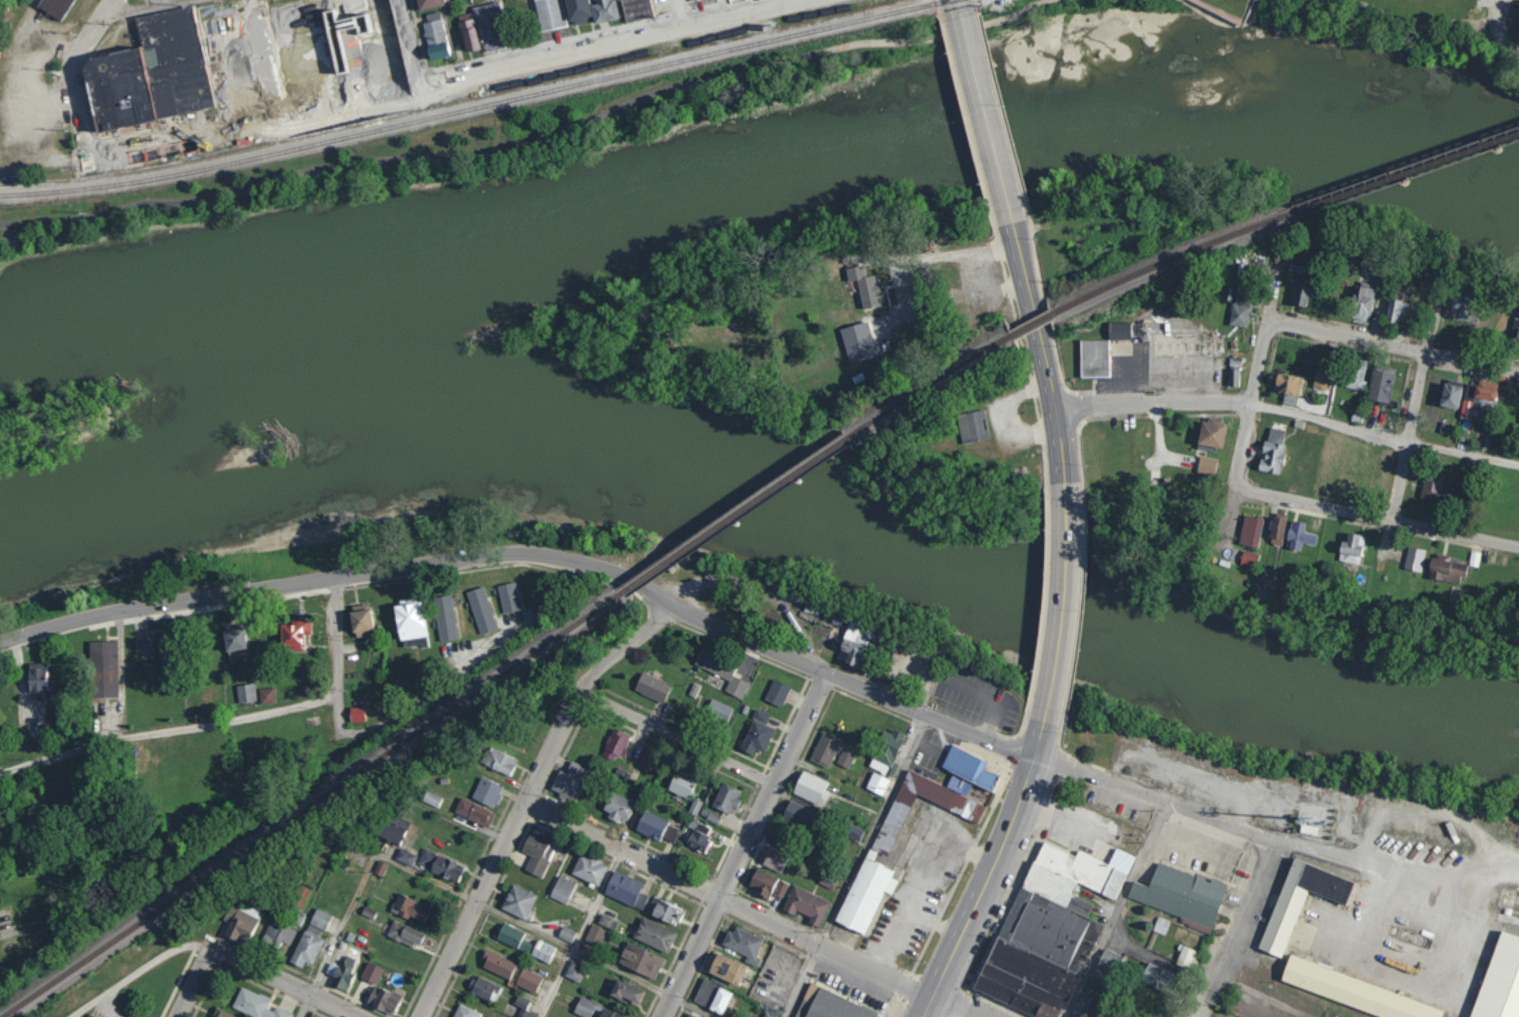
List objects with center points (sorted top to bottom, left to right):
building: (709, 0)
building: (428, 3)
road: (200, 4)
building: (443, 5)
building: (54, 7)
building: (73, 7)
road: (966, 7)
building: (651, 9)
building: (594, 11)
building: (625, 13)
road: (686, 13)
road: (1432, 15)
building: (563, 16)
building: (446, 17)
road: (1241, 17)
building: (507, 28)
road: (1505, 29)
road: (92, 31)
building: (467, 32)
building: (435, 35)
building: (448, 35)
building: (486, 37)
road: (411, 43)
road: (1505, 46)
building: (454, 56)
building: (193, 74)
road: (460, 78)
railway: (484, 107)
park: (652, 108)
road: (79, 118)
road: (990, 120)
road: (552, 138)
railway: (1407, 173)
road: (16, 234)
road: (948, 252)
railway: (1173, 259)
building: (1297, 265)
building: (1311, 266)
building: (865, 286)
building: (1380, 289)
building: (1300, 295)
building: (1316, 298)
building: (1362, 303)
building: (1461, 307)
building: (1240, 311)
building: (1409, 312)
building: (1475, 314)
building: (1256, 316)
railway: (1034, 326)
building: (1516, 331)
building: (1129, 332)
road: (1406, 344)
road: (1041, 353)
road: (1268, 353)
building: (1103, 360)
building: (1373, 373)
building: (1356, 374)
building: (1233, 377)
building: (1322, 380)
building: (1288, 384)
railway: (935, 385)
building: (1381, 385)
building: (1399, 387)
building: (1304, 388)
building: (1451, 394)
building: (1469, 398)
road: (1156, 403)
building: (1500, 404)
building: (972, 427)
road: (1388, 431)
building: (1211, 435)
road: (1420, 437)
building: (1284, 452)
building: (1206, 466)
building: (1432, 486)
building: (1446, 491)
river: (769, 508)
road: (1341, 509)
railway: (739, 514)
building: (1250, 531)
building: (1277, 531)
building: (1299, 536)
building: (1351, 549)
road: (533, 558)
building: (1249, 558)
building: (1415, 559)
building: (1446, 569)
road: (1067, 604)
building: (298, 637)
building: (239, 643)
building: (146, 645)
building: (857, 654)
building: (173, 655)
building: (724, 671)
building: (654, 688)
building: (779, 693)
building: (247, 694)
building: (721, 710)
road: (218, 715)
road: (679, 735)
building: (760, 737)
building: (619, 743)
building: (827, 750)
building: (653, 758)
building: (847, 759)
building: (887, 759)
building: (500, 762)
road: (1100, 778)
building: (575, 781)
building: (686, 784)
building: (814, 788)
building: (489, 792)
building: (940, 793)
road: (527, 794)
building: (729, 798)
building: (434, 801)
railway: (311, 805)
building: (621, 808)
building: (476, 812)
building: (803, 817)
building: (659, 828)
building: (395, 834)
building: (702, 841)
road: (743, 844)
building: (540, 854)
building: (406, 857)
building: (777, 858)
building: (444, 866)
road: (857, 867)
building: (592, 869)
road: (992, 873)
building: (830, 880)
building: (768, 884)
road: (359, 885)
road: (1252, 885)
building: (564, 890)
building: (629, 890)
building: (1183, 896)
road: (727, 900)
building: (1304, 900)
road: (1114, 909)
building: (875, 910)
building: (1052, 929)
road: (580, 933)
road: (571, 950)
building: (1189, 958)
building: (1112, 961)
building: (517, 968)
road: (137, 971)
building: (744, 972)
building: (388, 975)
building: (1163, 979)
road: (286, 980)
road: (193, 982)
building: (1357, 992)
road: (694, 1007)
road: (952, 1007)
building: (222, 1012)
building: (90, 1015)
building: (835, 1015)
building: (1101, 1016)

